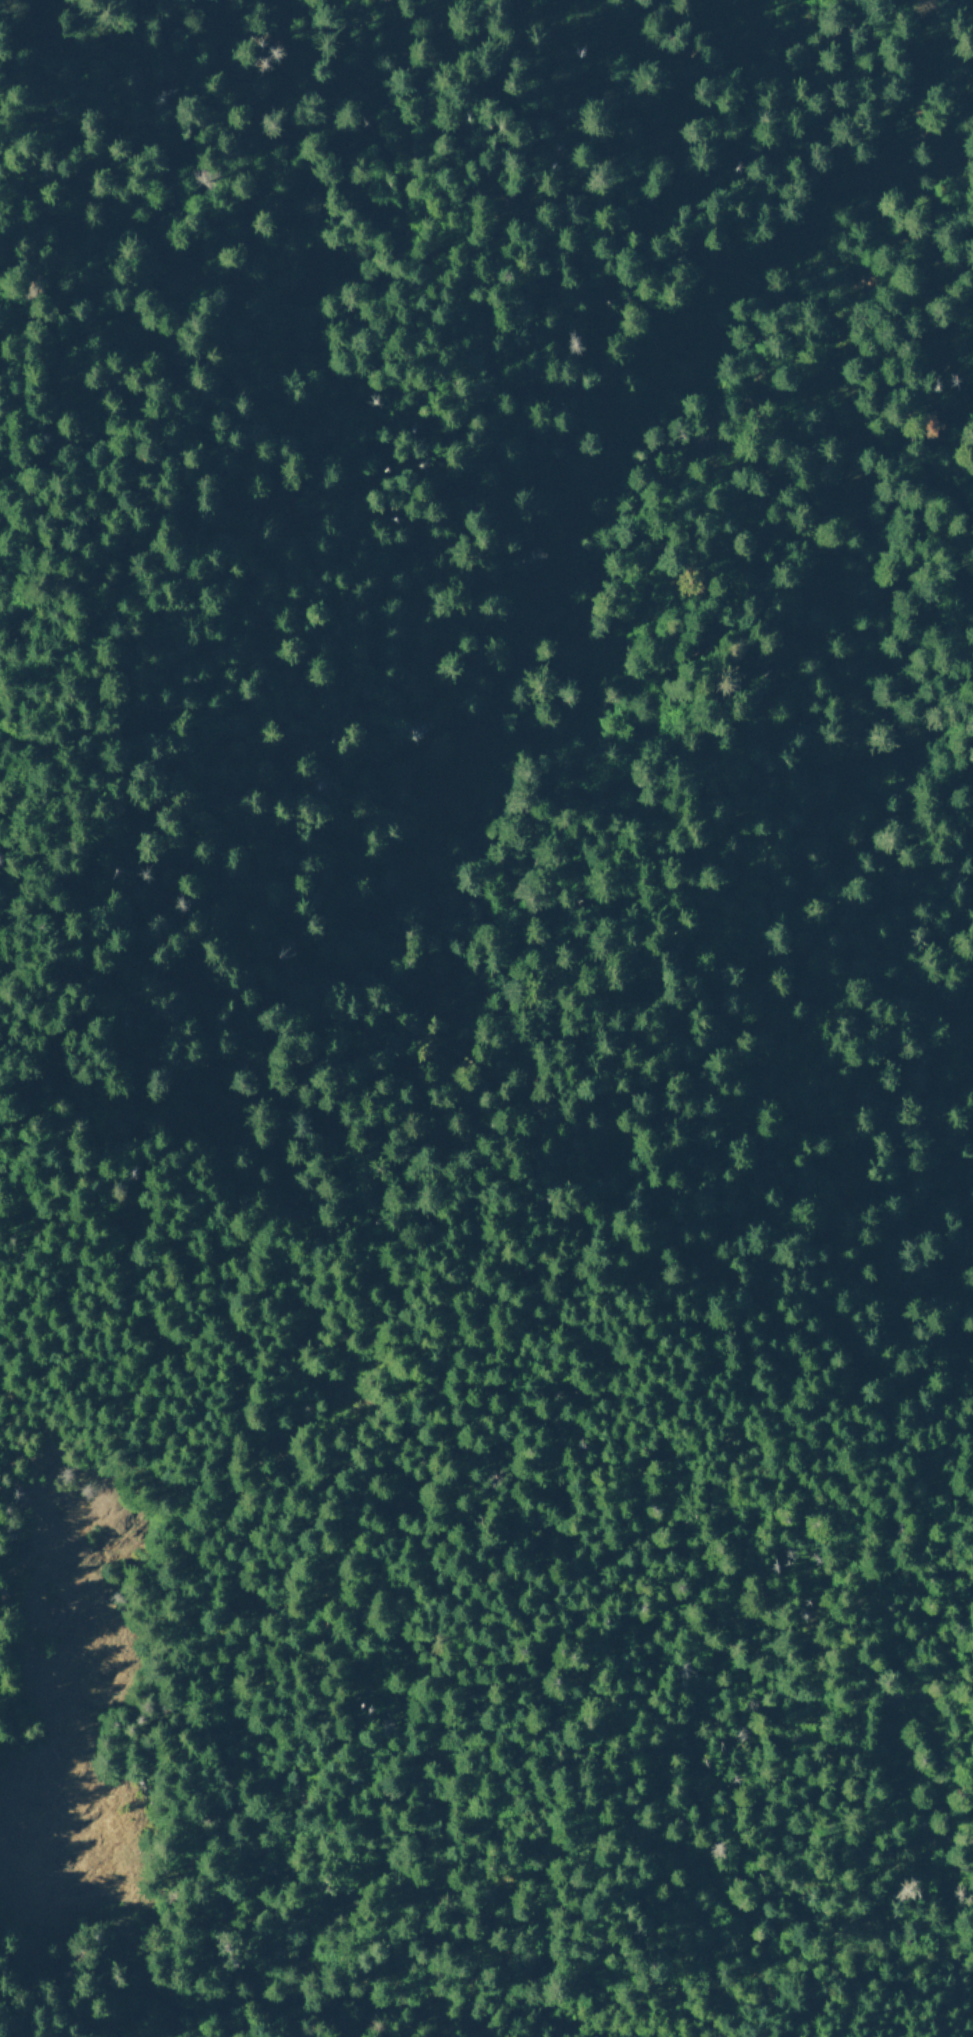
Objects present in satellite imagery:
road: (970, 905)
road: (705, 1490)

